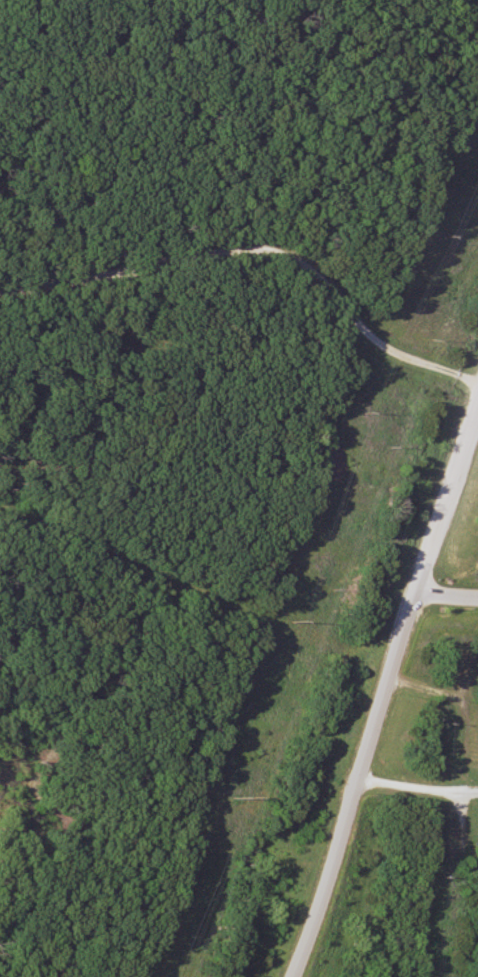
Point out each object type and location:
road: (263, 240)
road: (448, 596)
park: (421, 675)
road: (385, 693)

